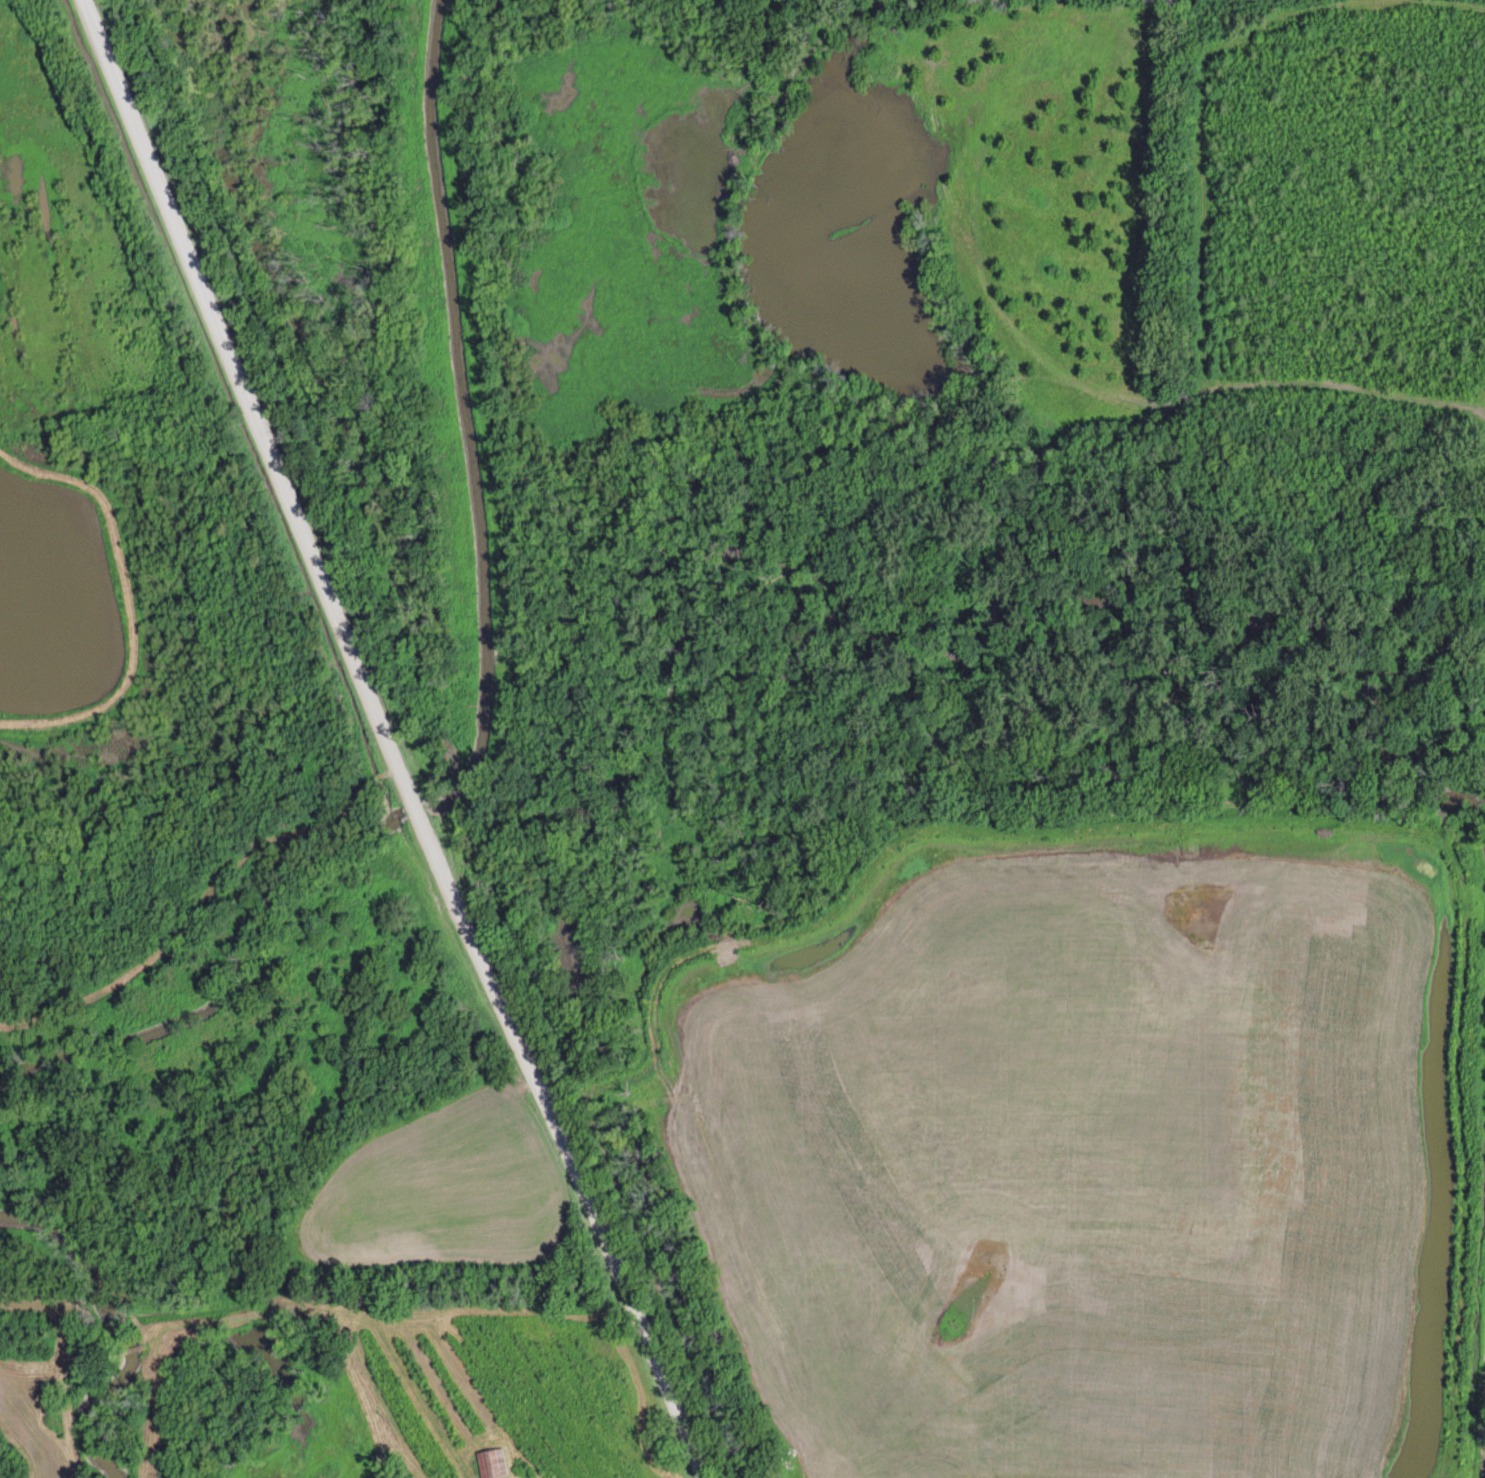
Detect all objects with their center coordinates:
road: (248, 399)
road: (557, 1137)
building: (491, 1463)

